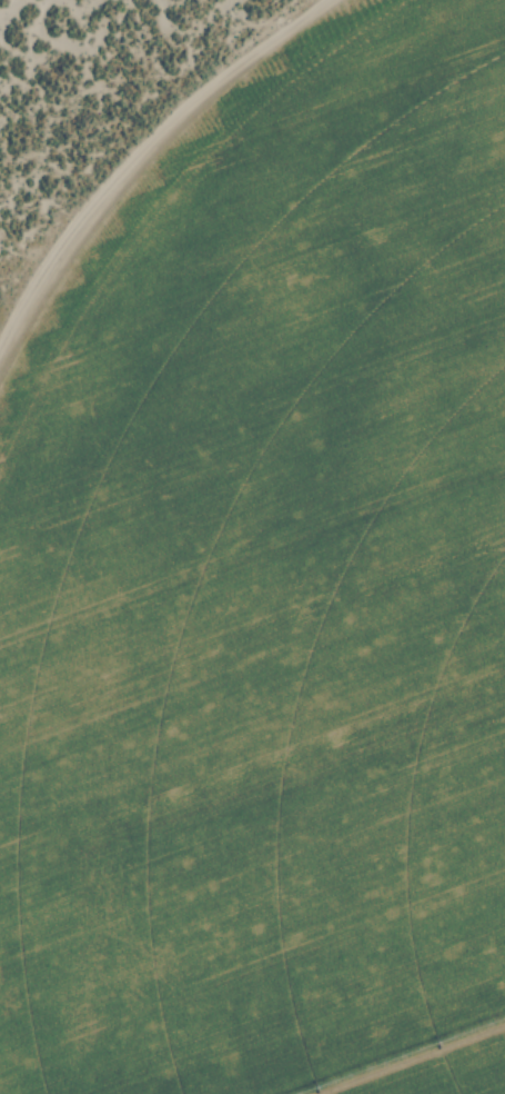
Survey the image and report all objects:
crop: (267, 593)

